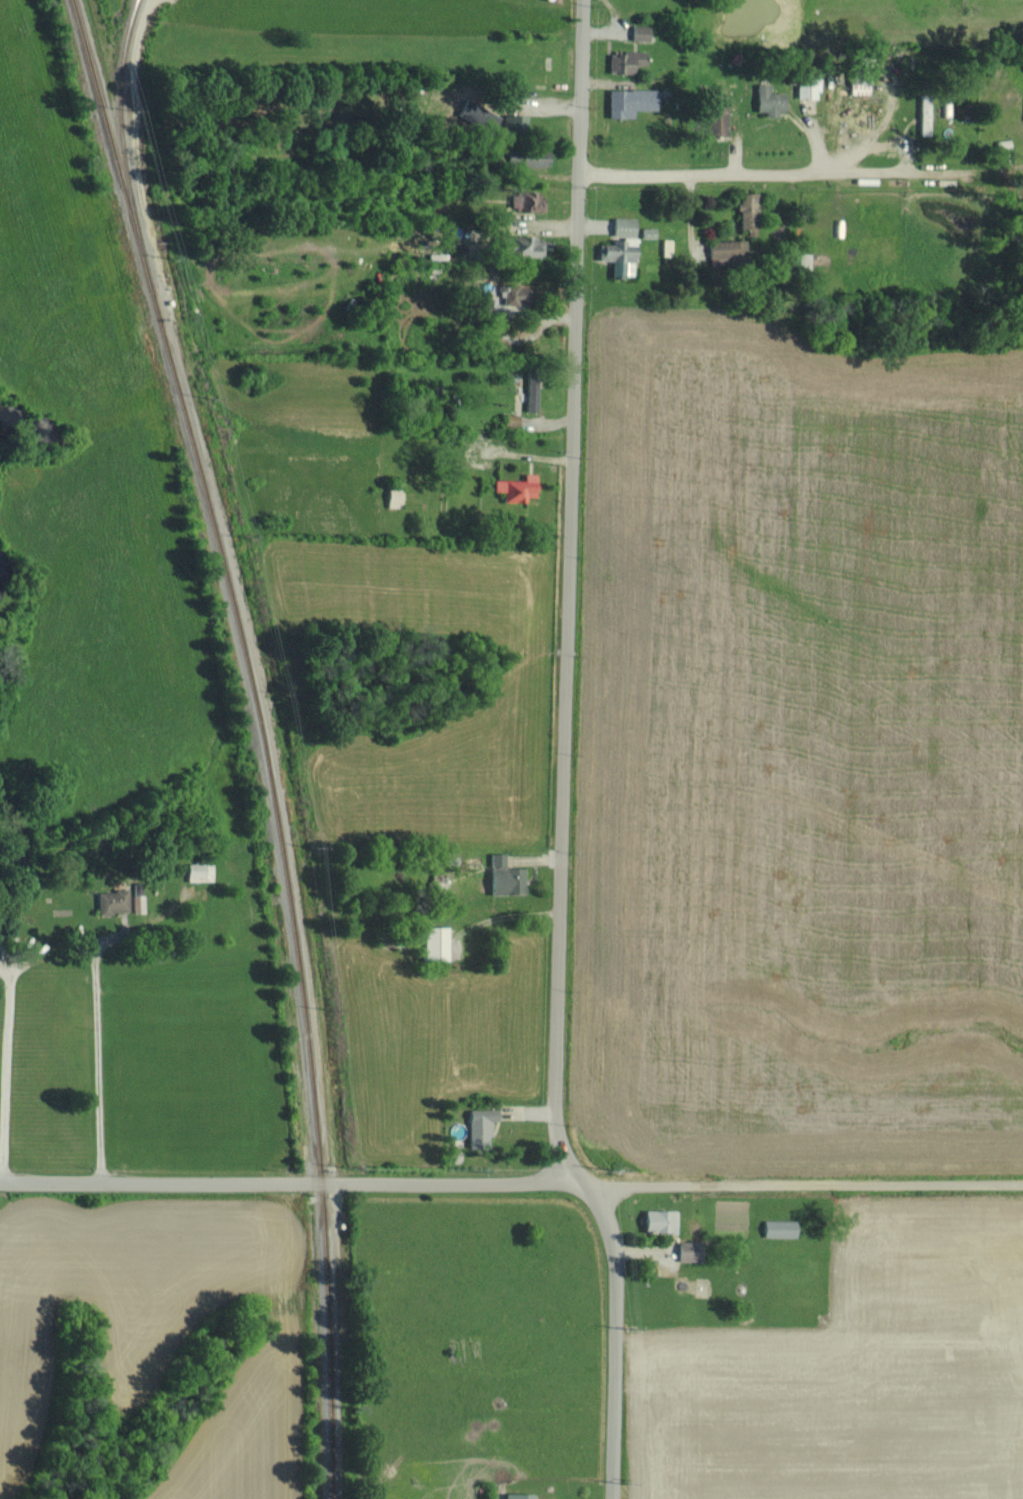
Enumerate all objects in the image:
building: (639, 32)
building: (624, 61)
building: (806, 87)
building: (768, 100)
building: (629, 101)
road: (541, 105)
building: (461, 114)
building: (923, 114)
building: (716, 117)
railway: (120, 119)
building: (518, 122)
road: (858, 147)
road: (815, 148)
building: (533, 157)
road: (769, 174)
building: (526, 200)
building: (747, 212)
building: (622, 225)
building: (528, 245)
building: (725, 250)
building: (618, 255)
building: (799, 259)
building: (516, 293)
building: (530, 395)
building: (516, 487)
building: (393, 497)
railway: (266, 739)
road: (564, 756)
building: (496, 859)
building: (199, 871)
building: (496, 876)
building: (517, 880)
building: (111, 901)
building: (137, 903)
building: (433, 943)
road: (97, 1063)
road: (5, 1079)
building: (480, 1124)
road: (805, 1183)
road: (293, 1185)
building: (659, 1221)
building: (778, 1228)
building: (688, 1251)
building: (516, 1496)

